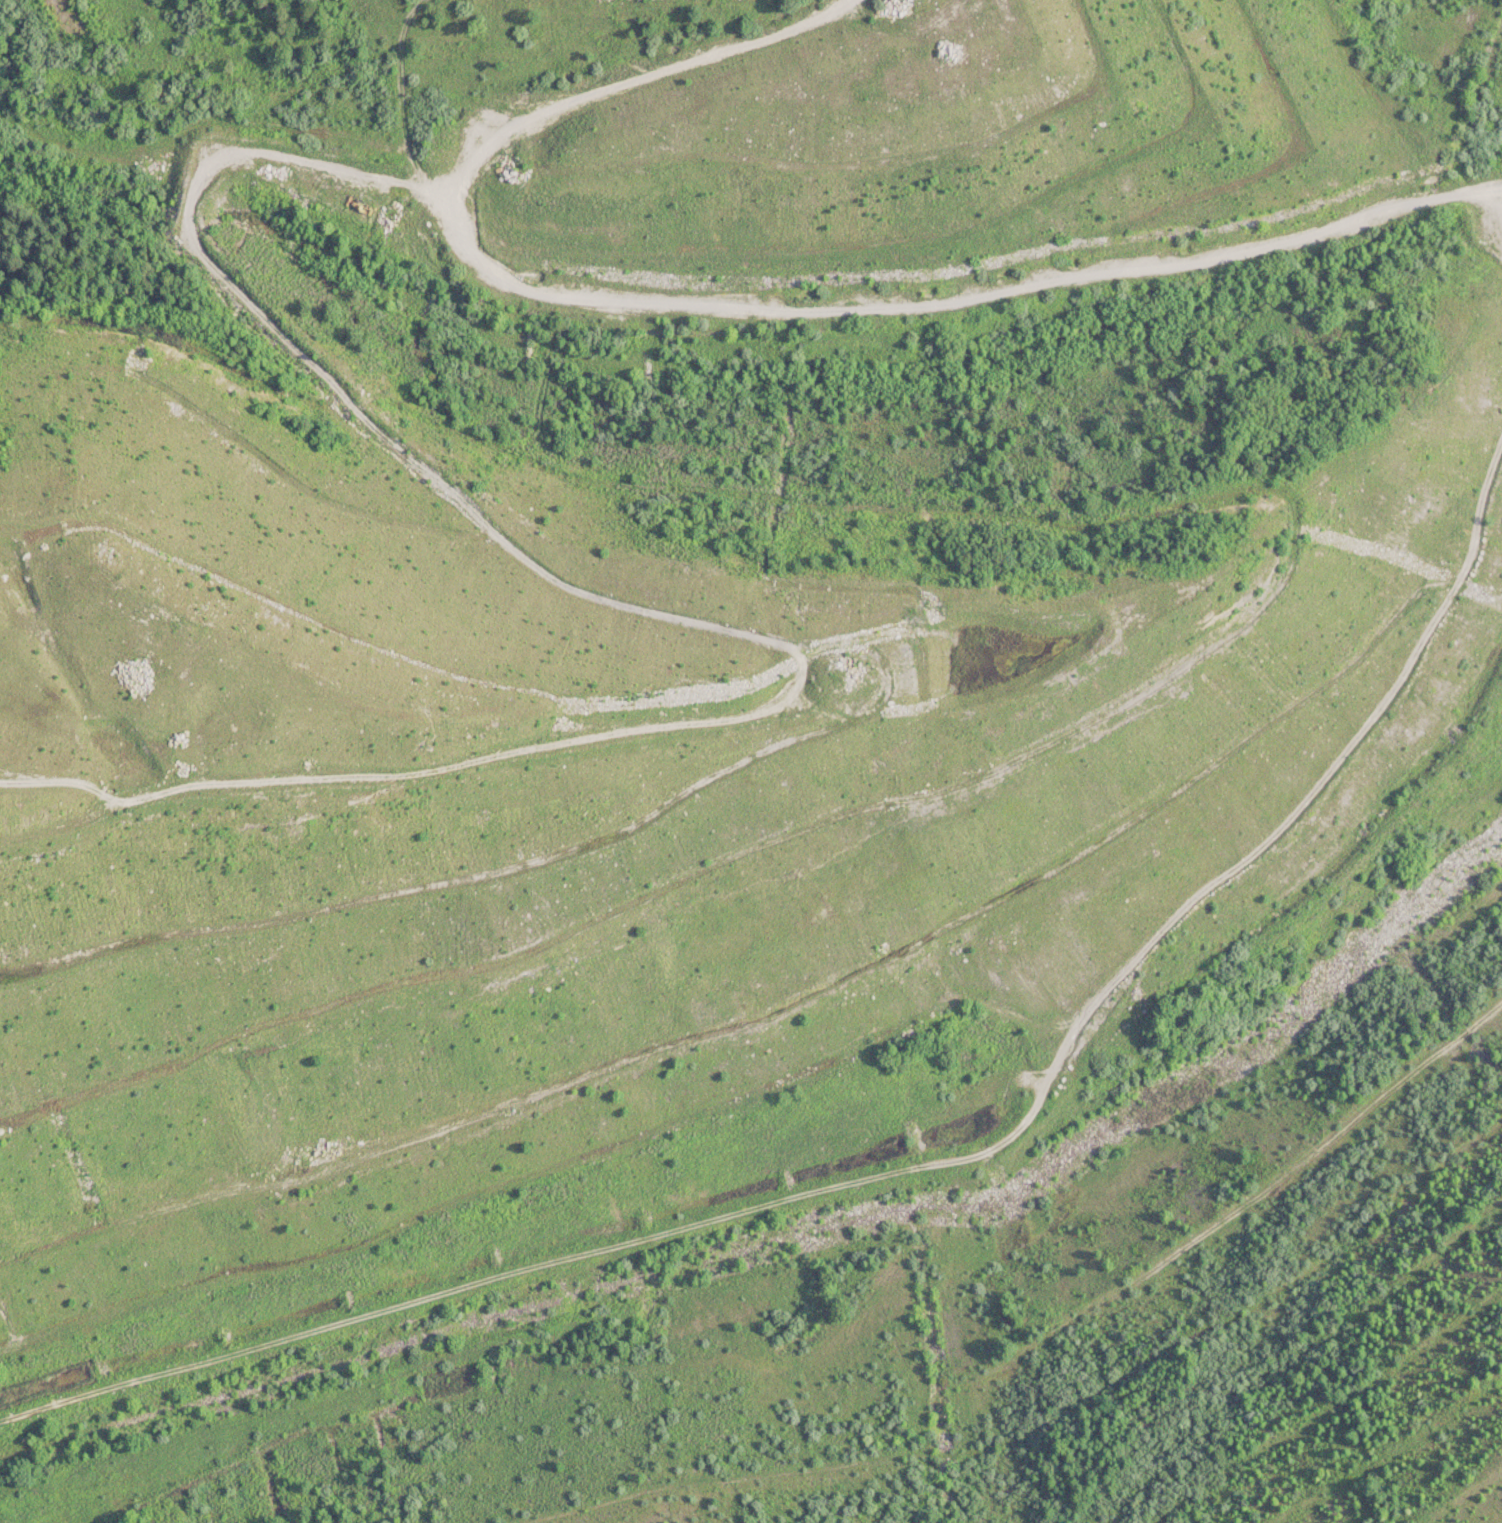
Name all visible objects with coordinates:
quarry: (761, 770)

